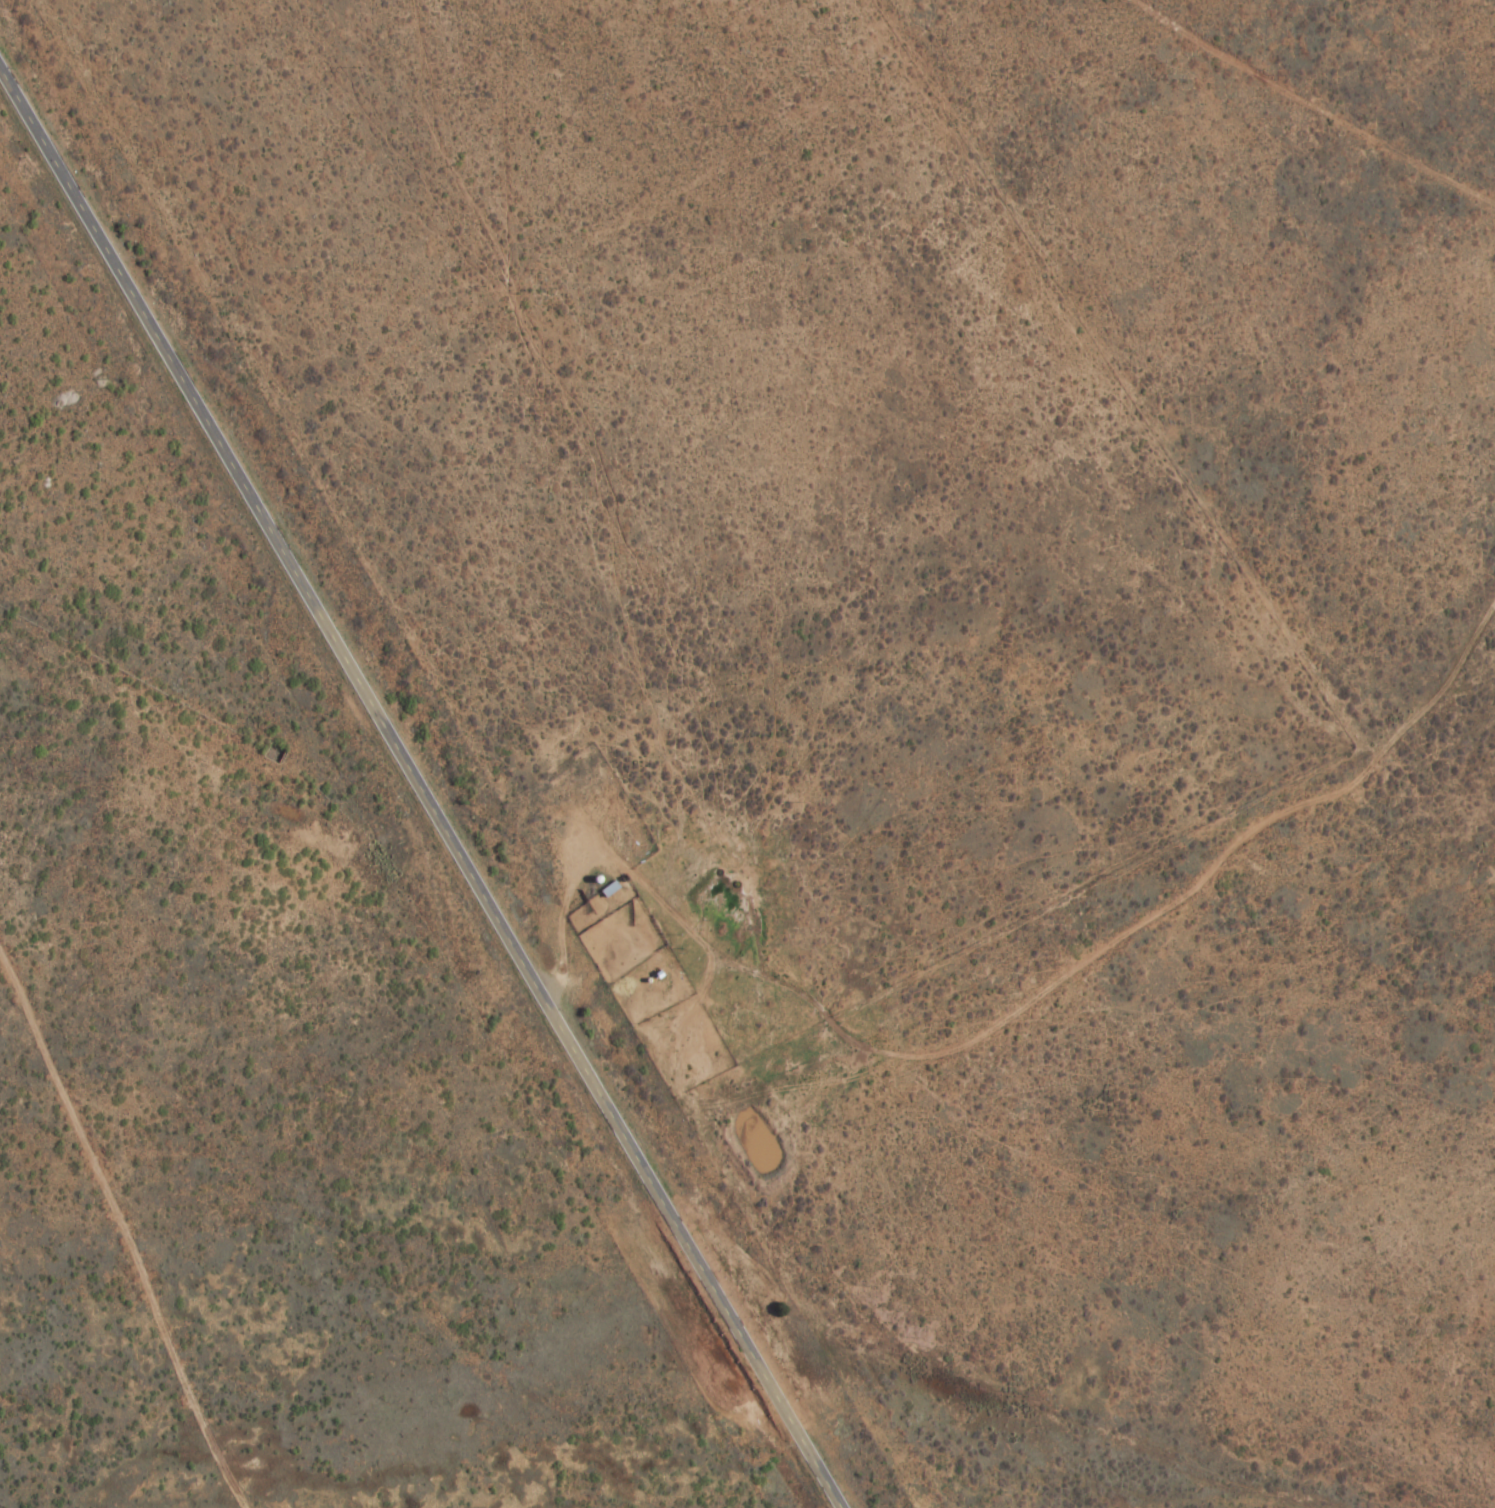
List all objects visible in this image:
road: (419, 789)

